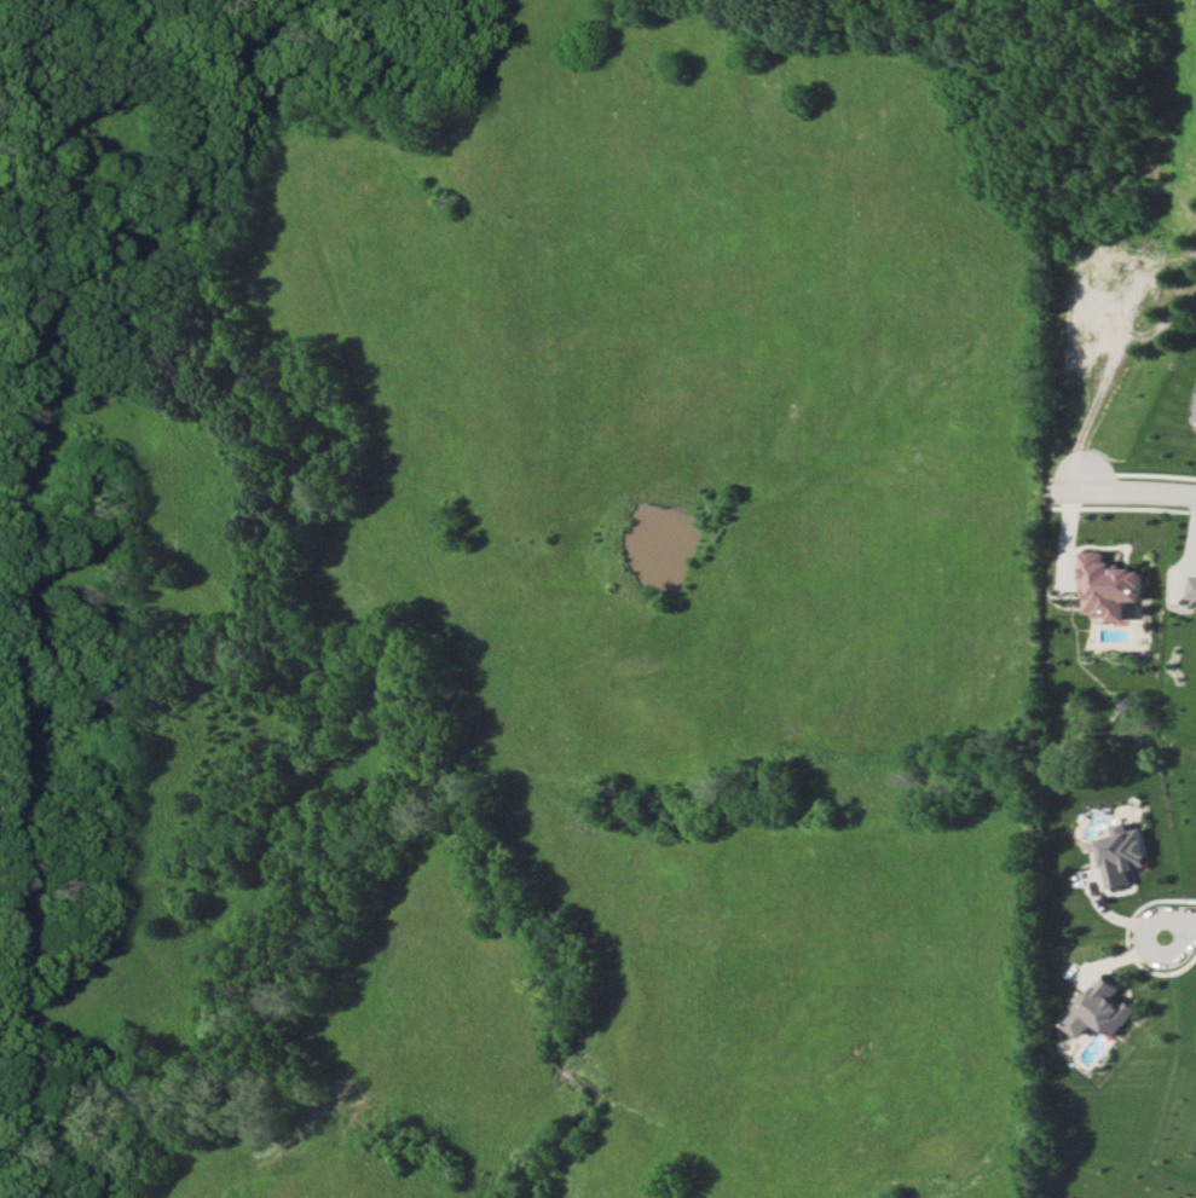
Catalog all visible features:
road: (1181, 328)
road: (1123, 359)
building: (1195, 417)
road: (1138, 493)
building: (1108, 585)
building: (1192, 586)
building: (1122, 853)
road: (1179, 925)
building: (1102, 1009)

